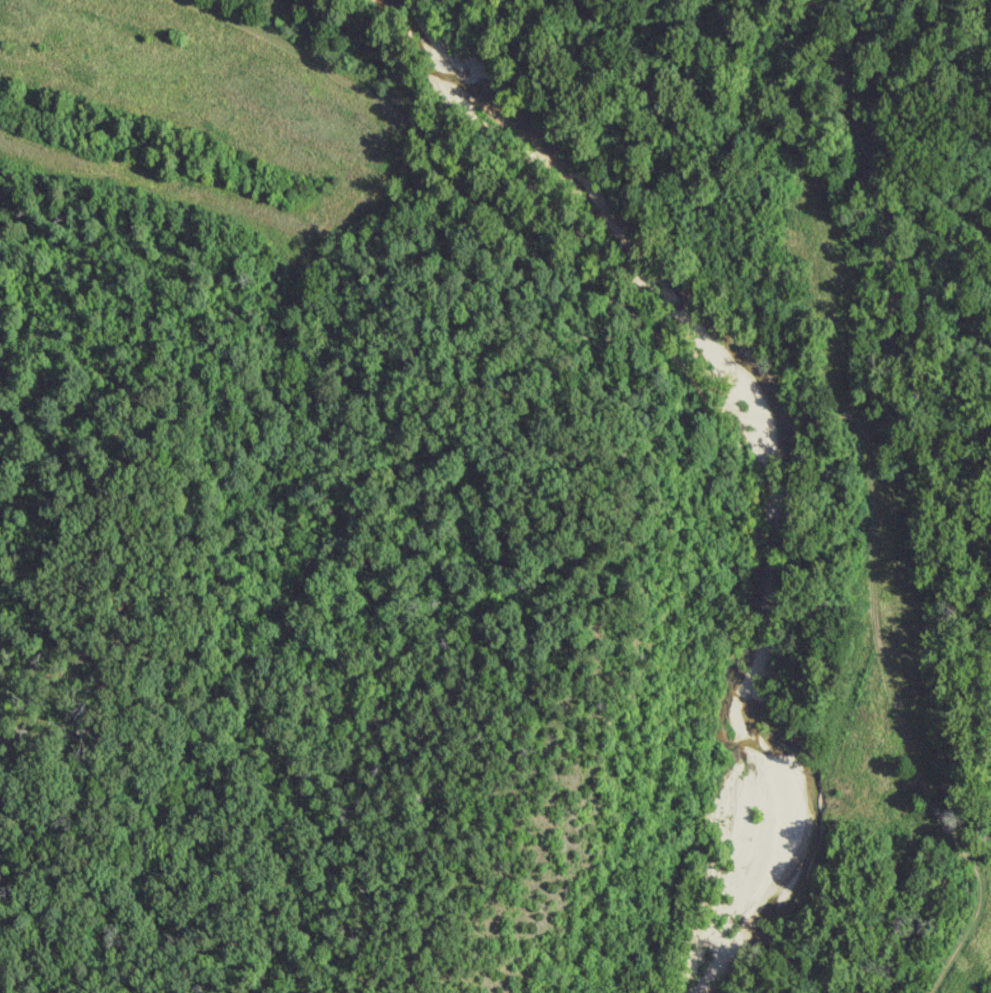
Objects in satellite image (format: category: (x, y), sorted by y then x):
road: (759, 420)

